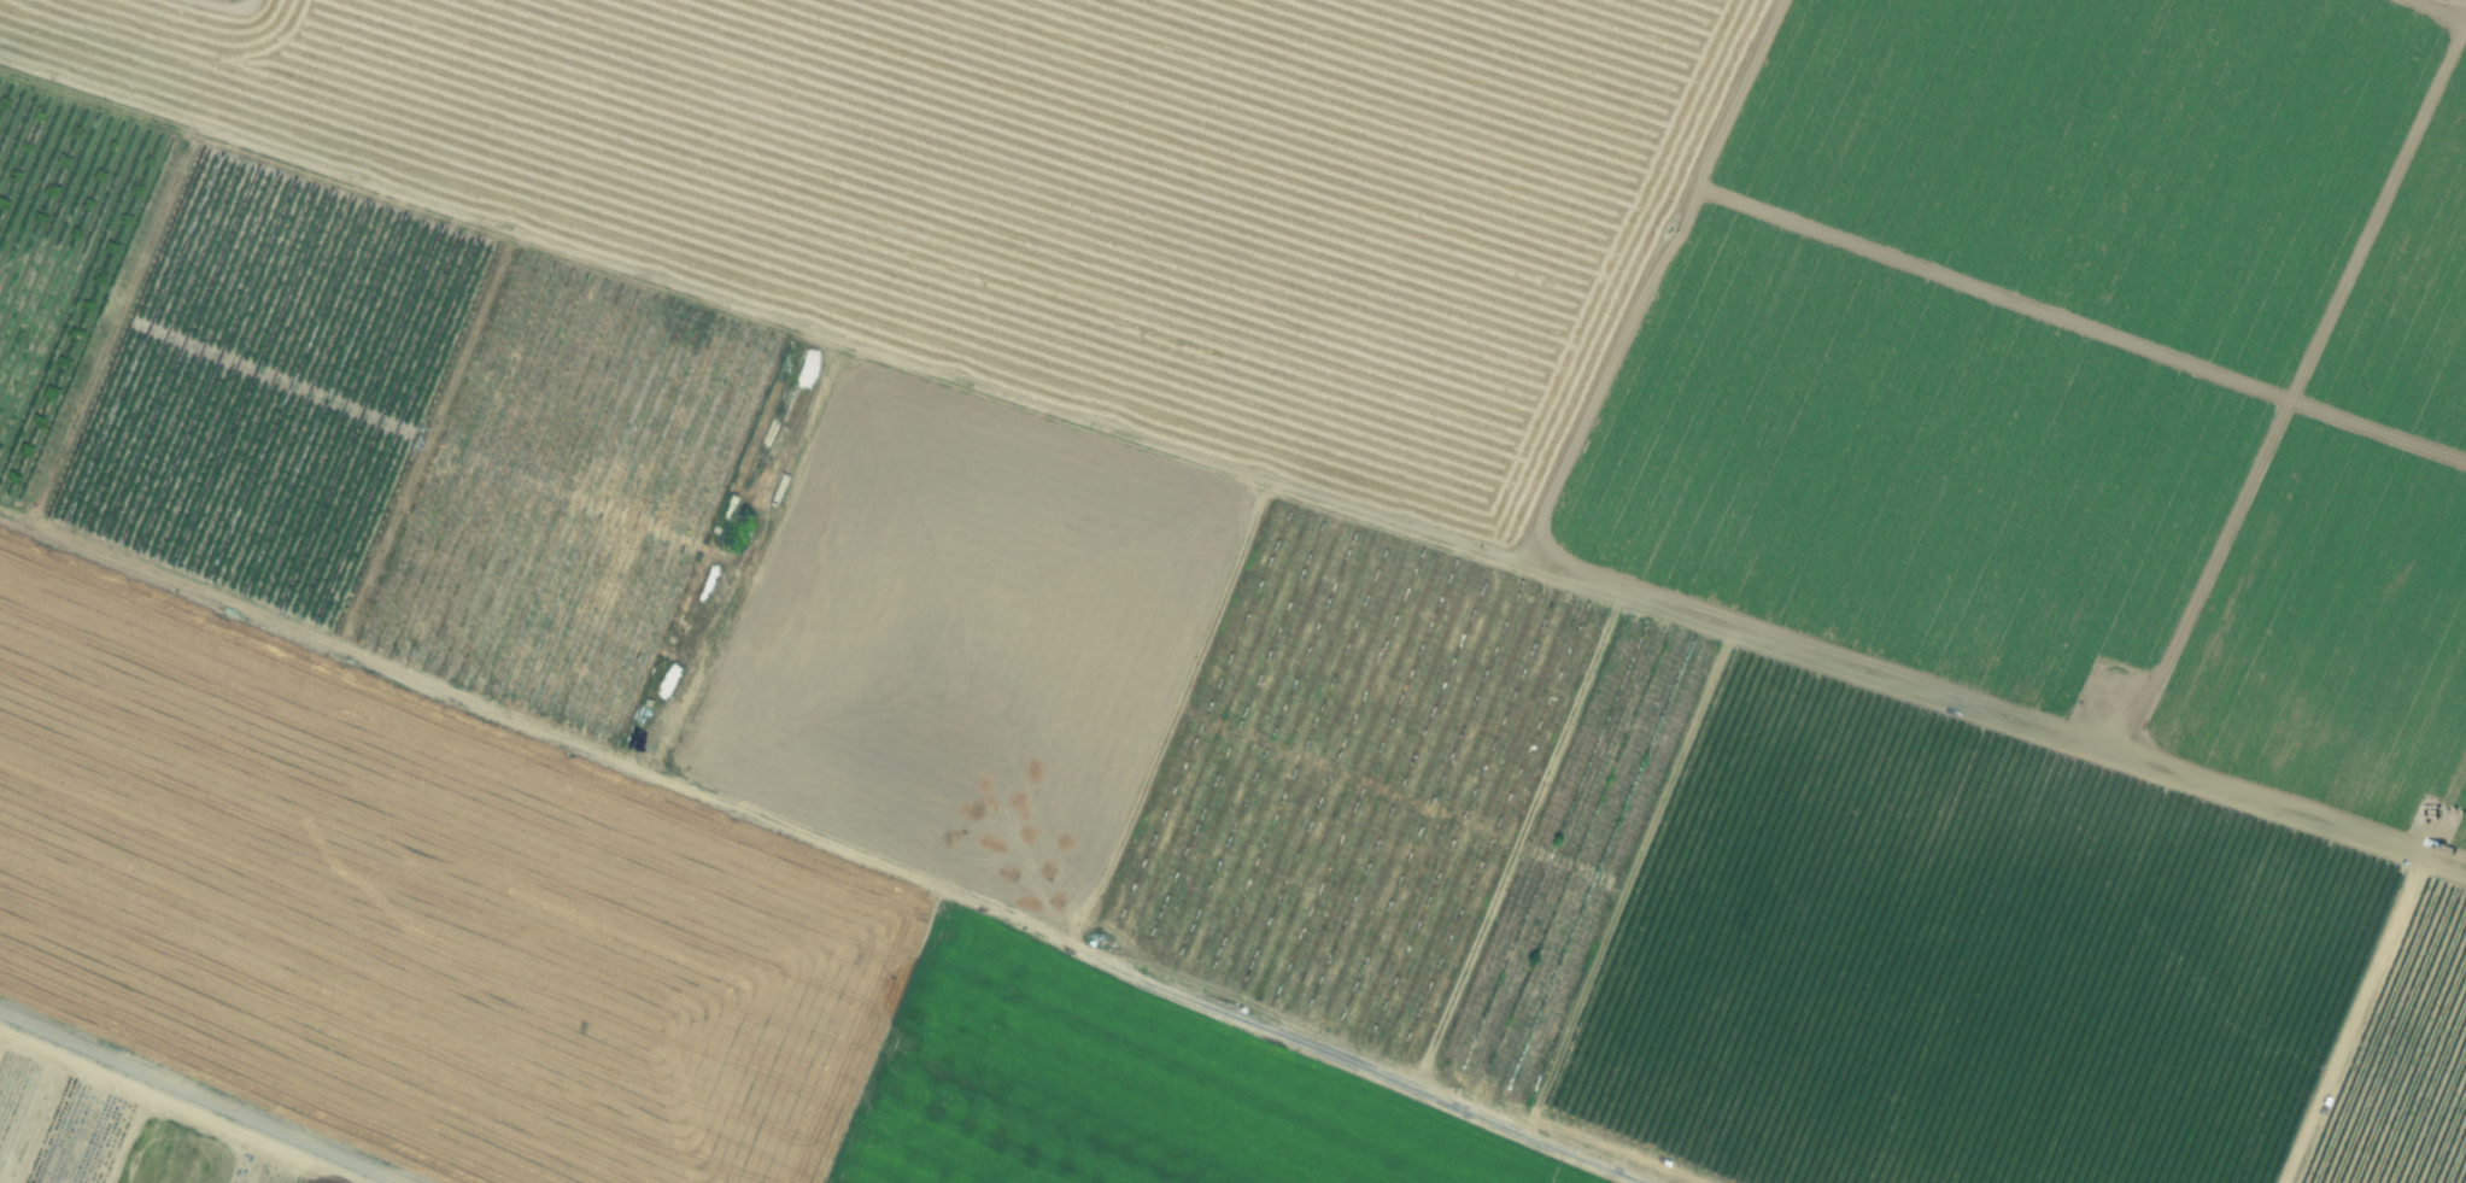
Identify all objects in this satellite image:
crop: (1231, 591)
road: (831, 839)
building: (1552, 847)
building: (2146, 988)
road: (199, 1096)

